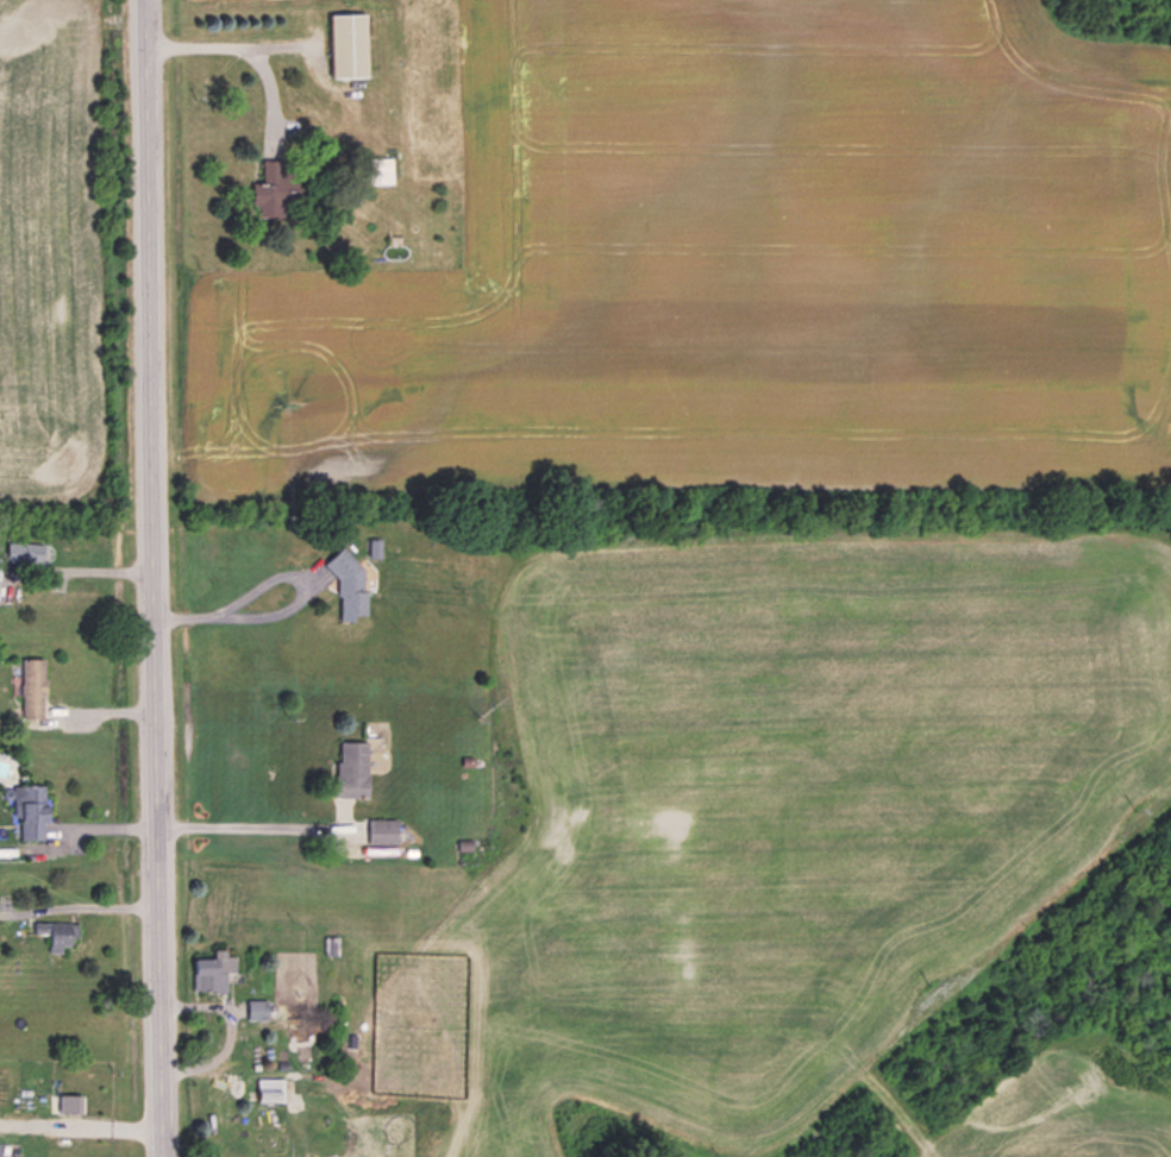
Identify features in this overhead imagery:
building: (351, 44)
road: (248, 50)
building: (274, 188)
building: (27, 551)
road: (159, 578)
road: (294, 604)
building: (35, 685)
building: (355, 767)
building: (33, 810)
road: (245, 825)
building: (384, 829)
road: (96, 905)
building: (60, 932)
building: (332, 944)
building: (214, 970)
building: (270, 1092)
building: (70, 1102)
road: (82, 1125)

